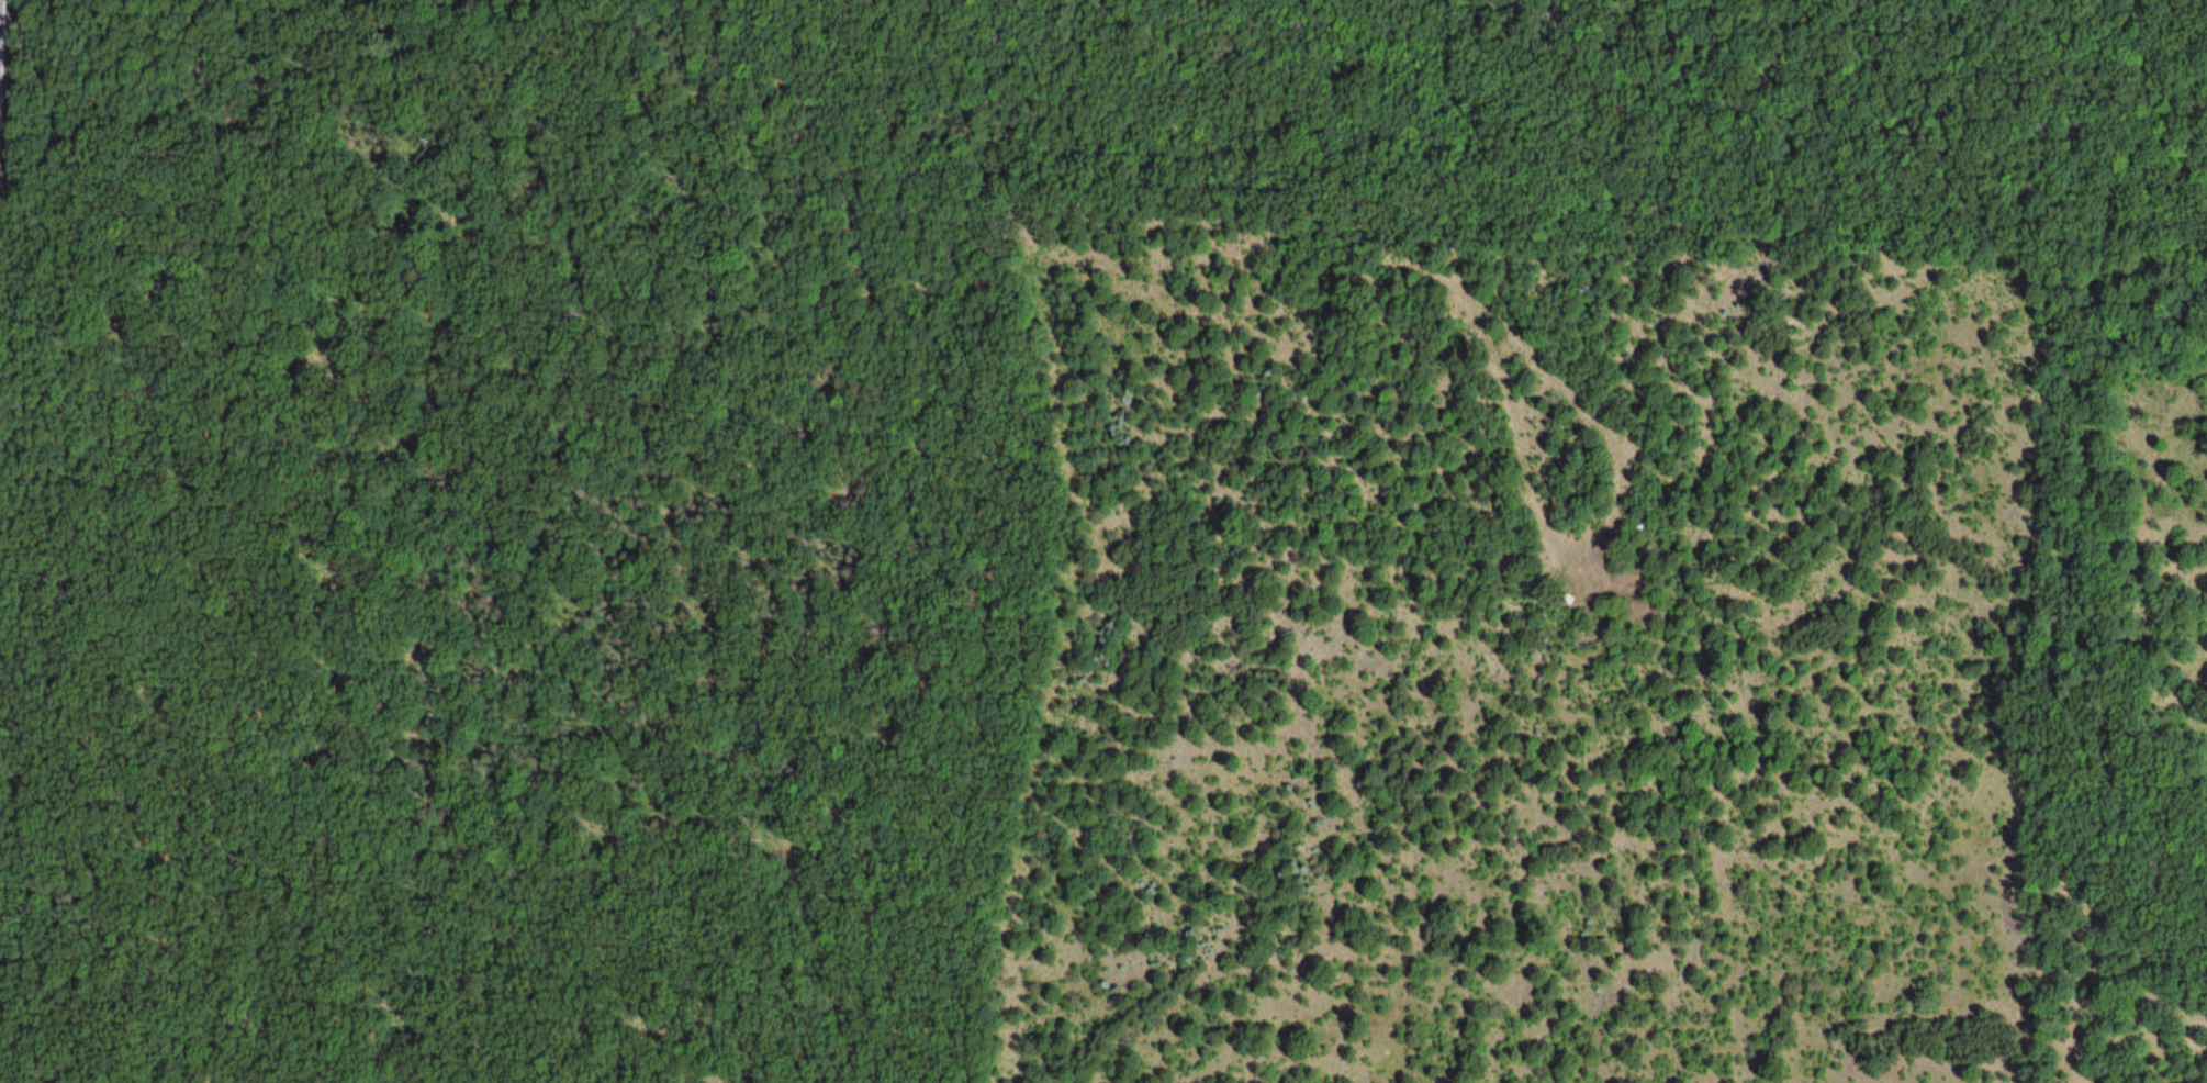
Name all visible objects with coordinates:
road: (1296, 132)
road: (1593, 536)
road: (673, 541)

